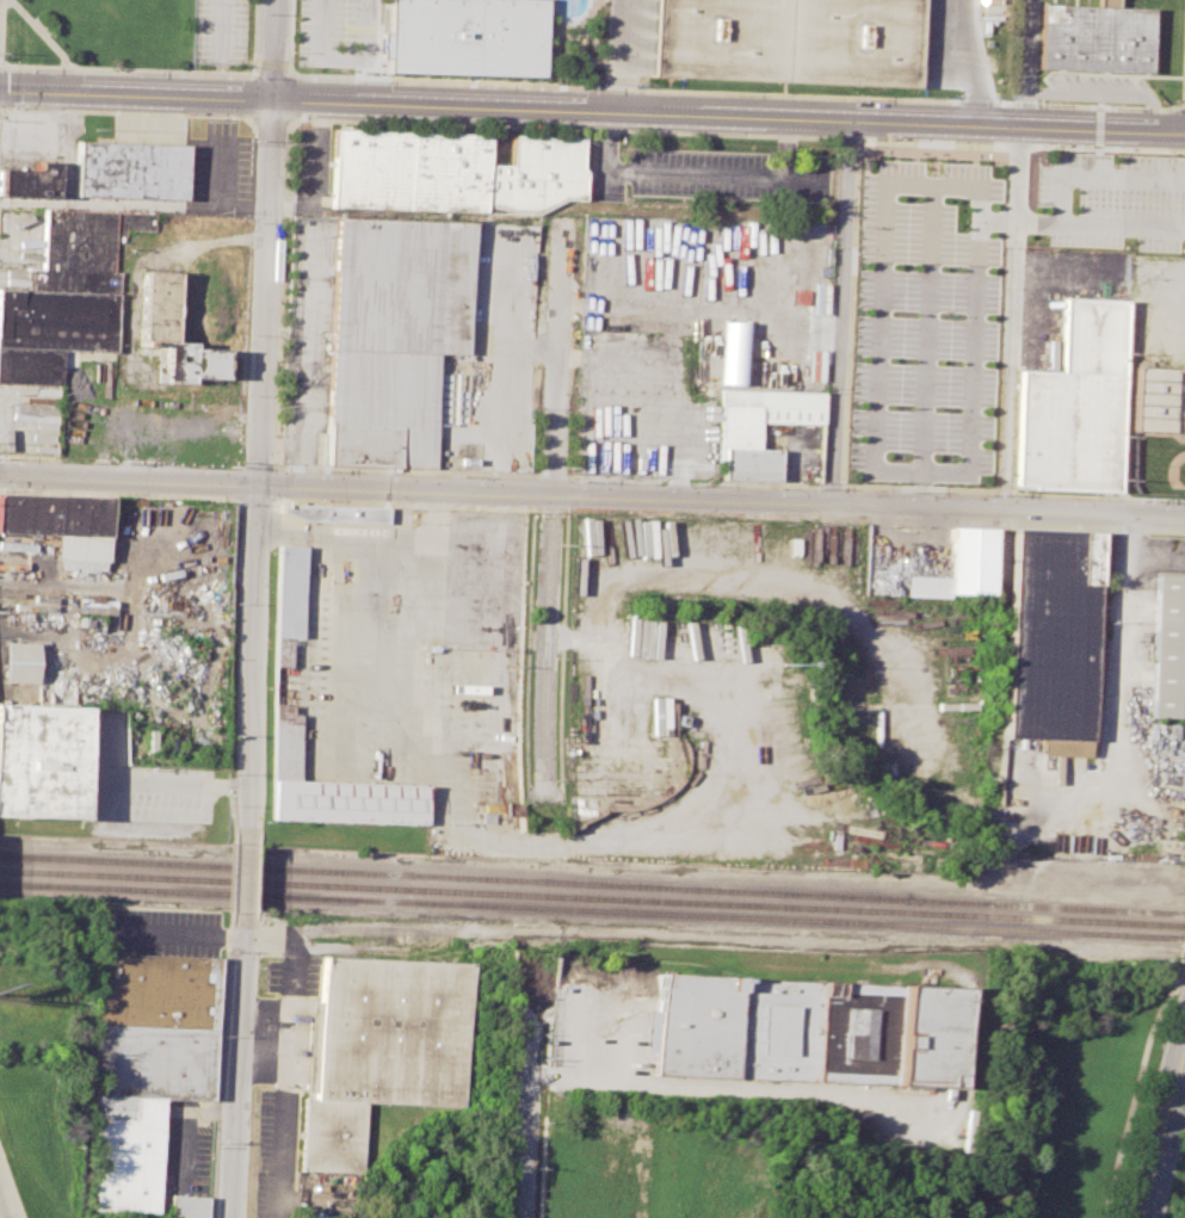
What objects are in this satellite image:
street lamp: (31, 17)
road: (220, 30)
parking lot: (221, 32)
parking lot: (334, 32)
road: (42, 35)
street lamp: (49, 36)
building: (465, 37)
building: (789, 38)
building: (1092, 39)
street lamp: (342, 47)
road: (623, 54)
street lamp: (288, 55)
road: (342, 56)
road: (967, 62)
road: (1, 67)
road: (131, 70)
road: (700, 91)
road: (590, 107)
street lamp: (183, 113)
street lamp: (357, 119)
street lamp: (530, 125)
road: (592, 129)
road: (1181, 130)
street lamp: (702, 131)
road: (1181, 131)
street lamp: (885, 140)
street lamp: (1048, 146)
road: (789, 147)
road: (1098, 153)
street lamp: (1010, 159)
building: (128, 168)
building: (452, 171)
road: (687, 174)
road: (1141, 178)
parking lot: (724, 179)
building: (26, 180)
street lamp: (284, 192)
parking lot: (1112, 200)
road: (998, 220)
road: (1073, 227)
road: (1014, 252)
building: (63, 297)
road: (843, 308)
building: (160, 309)
road: (926, 327)
street lamp: (279, 333)
building: (391, 334)
road: (504, 340)
road: (531, 347)
road: (558, 352)
building: (1158, 398)
building: (1075, 403)
road: (261, 422)
building: (759, 426)
park: (1156, 459)
street lamp: (274, 463)
road: (872, 466)
road: (845, 483)
road: (920, 486)
road: (592, 491)
building: (338, 514)
building: (62, 525)
road: (368, 542)
building: (961, 565)
road: (64, 587)
building: (289, 591)
road: (548, 636)
building: (1050, 636)
building: (1167, 649)
road: (1118, 650)
building: (280, 653)
building: (18, 662)
building: (39, 762)
parking lot: (134, 779)
road: (223, 787)
building: (345, 803)
road: (103, 818)
road: (576, 841)
road: (241, 879)
railway: (592, 883)
railway: (592, 897)
railway: (592, 910)
road: (289, 969)
street lamp: (1165, 1003)
building: (803, 1022)
building: (381, 1051)
road: (235, 1065)
building: (144, 1069)
road: (748, 1087)
road: (280, 1108)
road: (525, 1114)
building: (860, 1120)
road: (1164, 1126)
street lamp: (1180, 1149)
road: (10, 1187)
building: (185, 1206)

